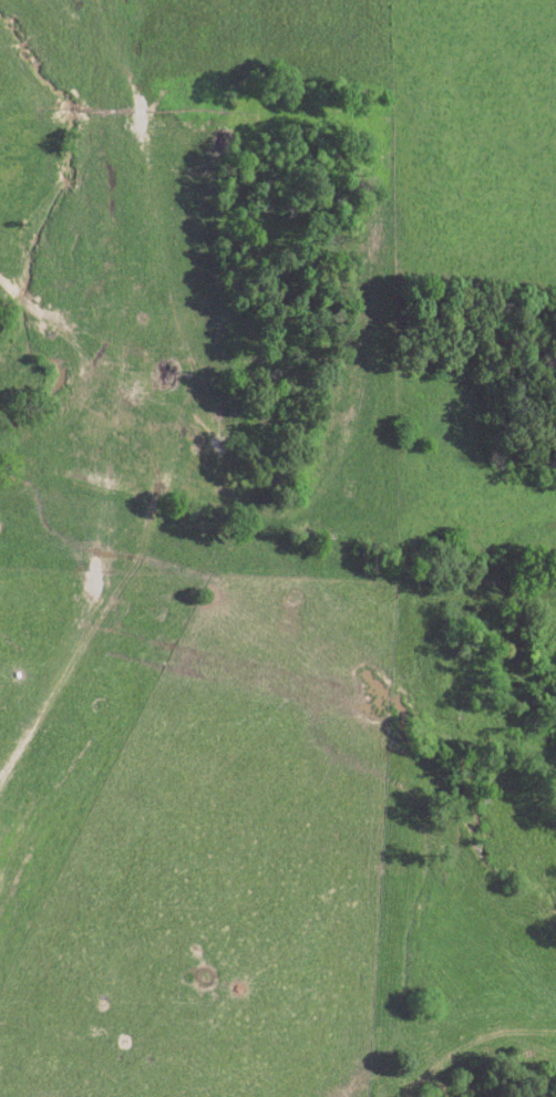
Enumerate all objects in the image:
crop: (269, 825)

